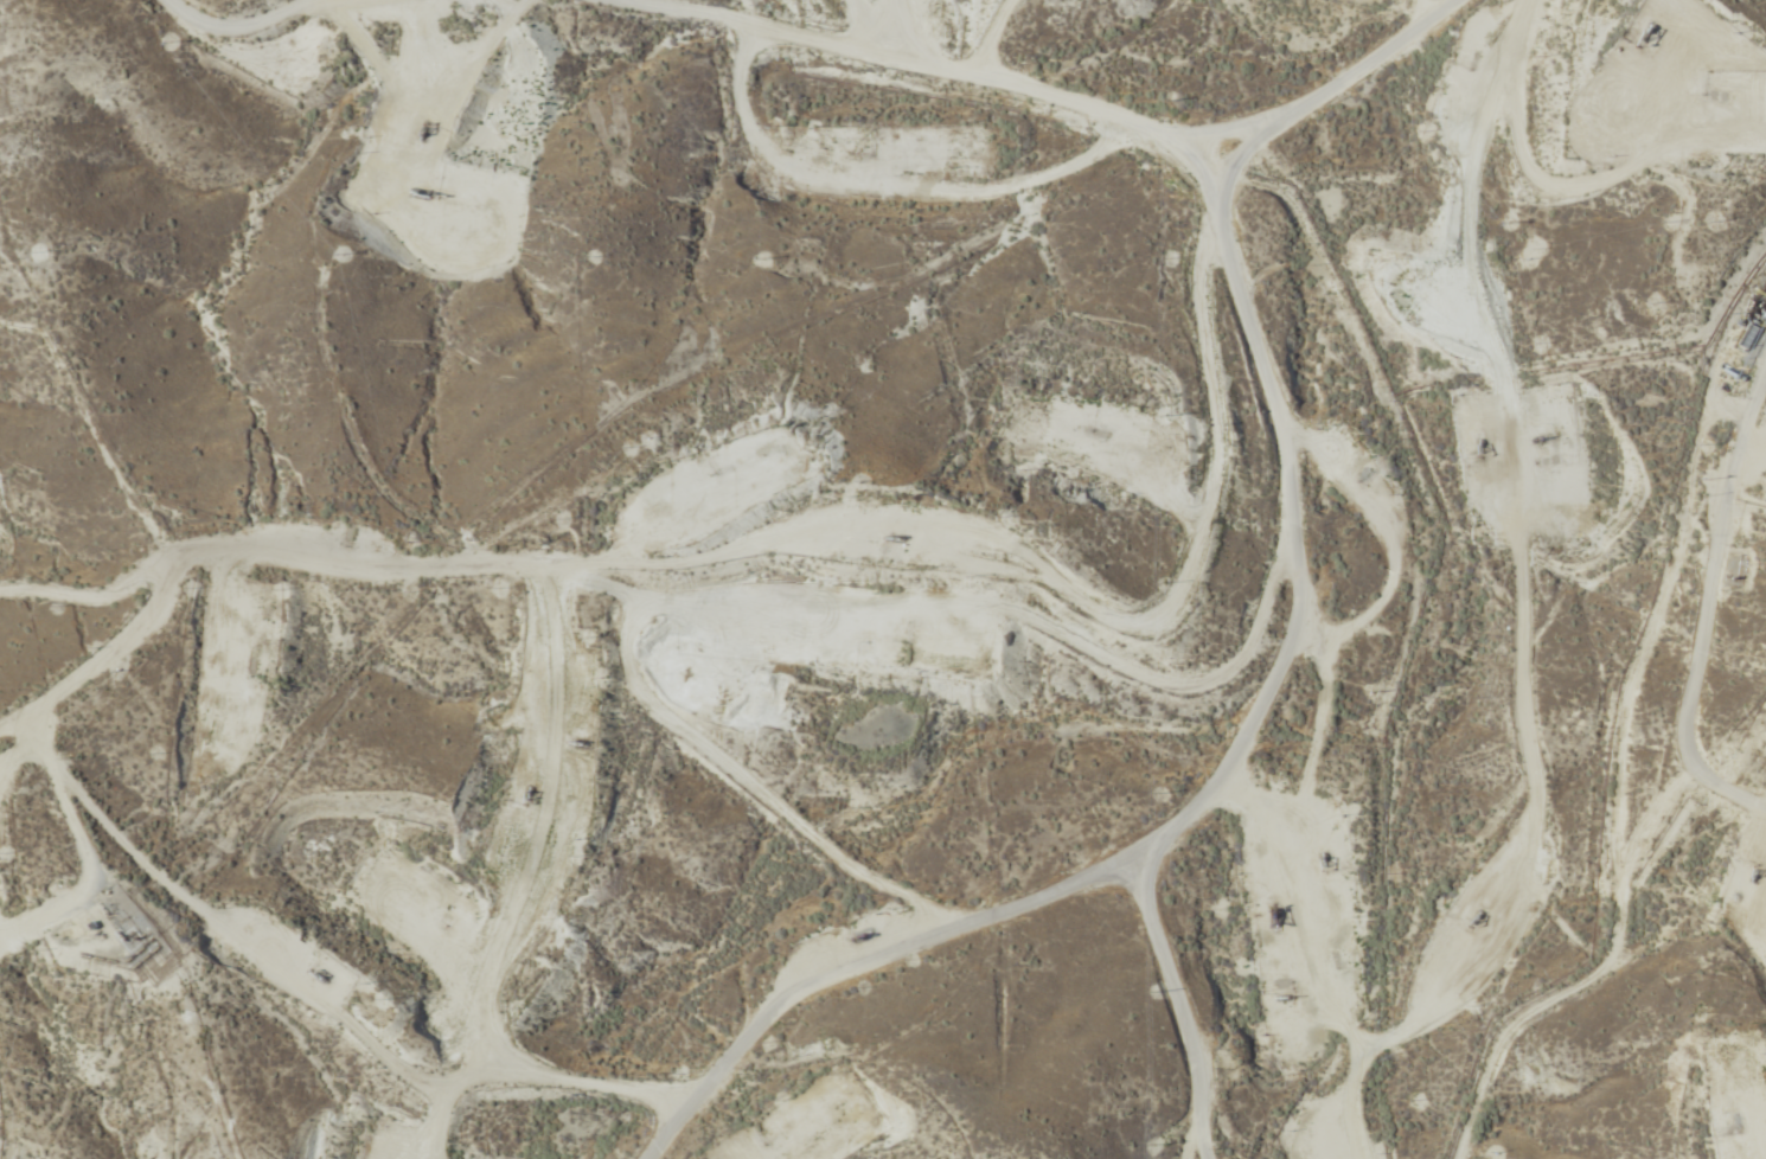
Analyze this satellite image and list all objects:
road: (1116, 92)
road: (1694, 249)
road: (1212, 337)
building: (1749, 337)
road: (711, 596)
road: (1595, 621)
road: (1061, 864)

